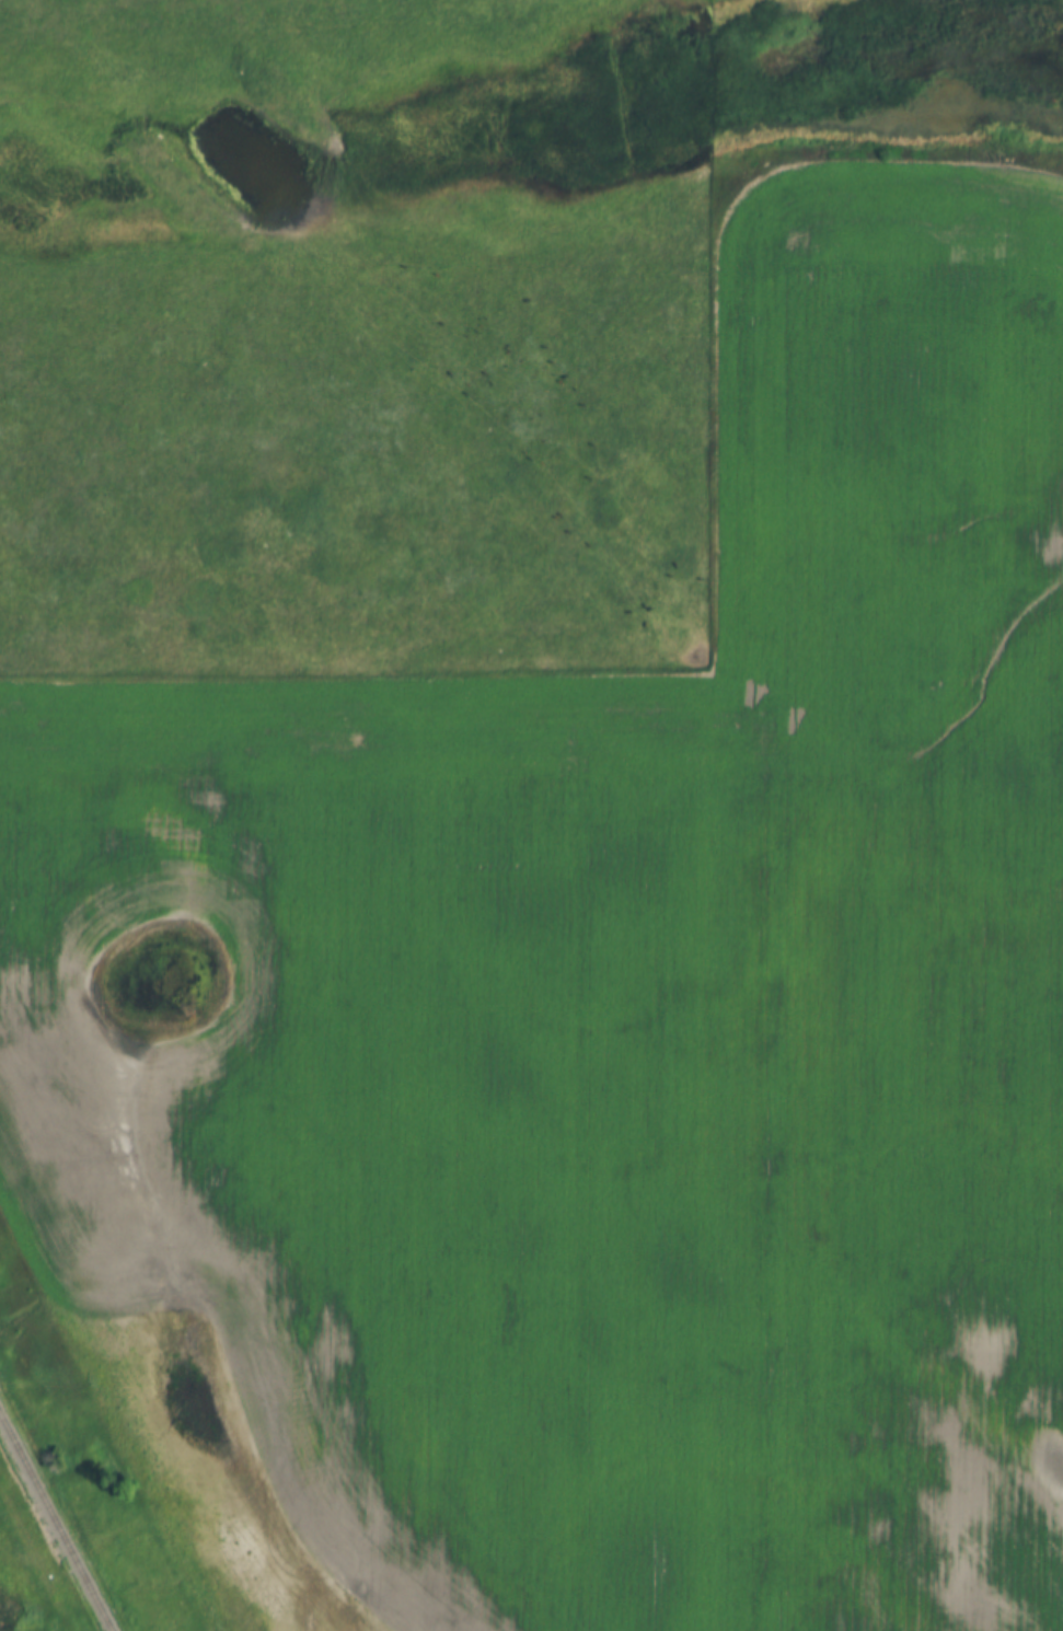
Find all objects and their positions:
railway: (56, 1523)
railway: (34, 1564)

